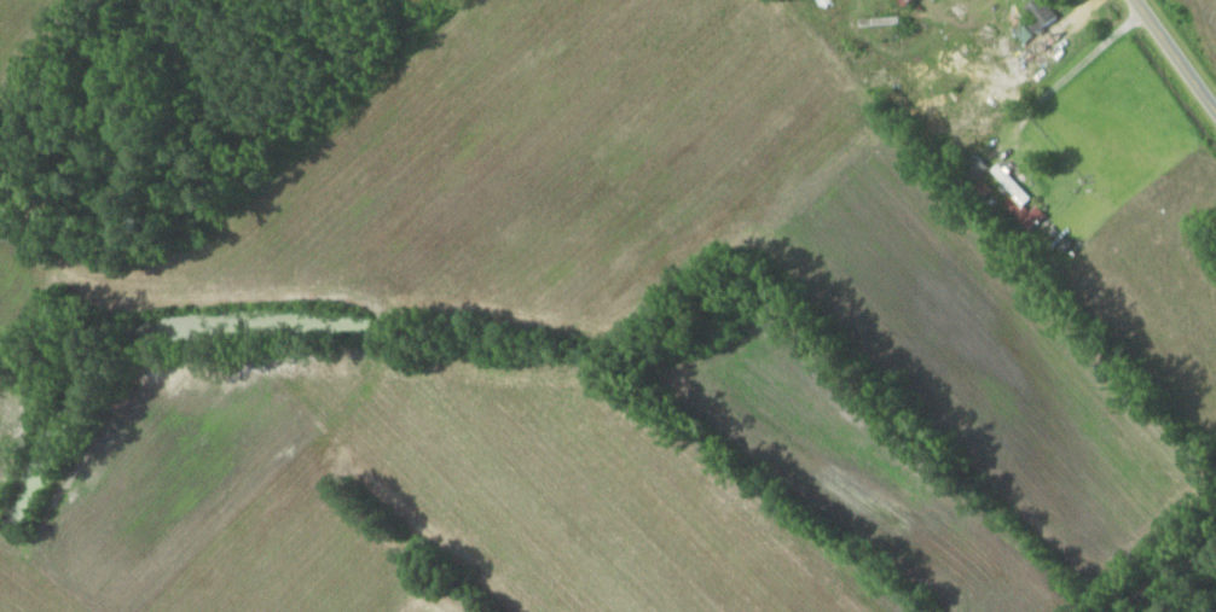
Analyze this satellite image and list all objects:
building: (909, 2)
building: (1044, 13)
road: (1175, 54)
building: (1013, 185)

